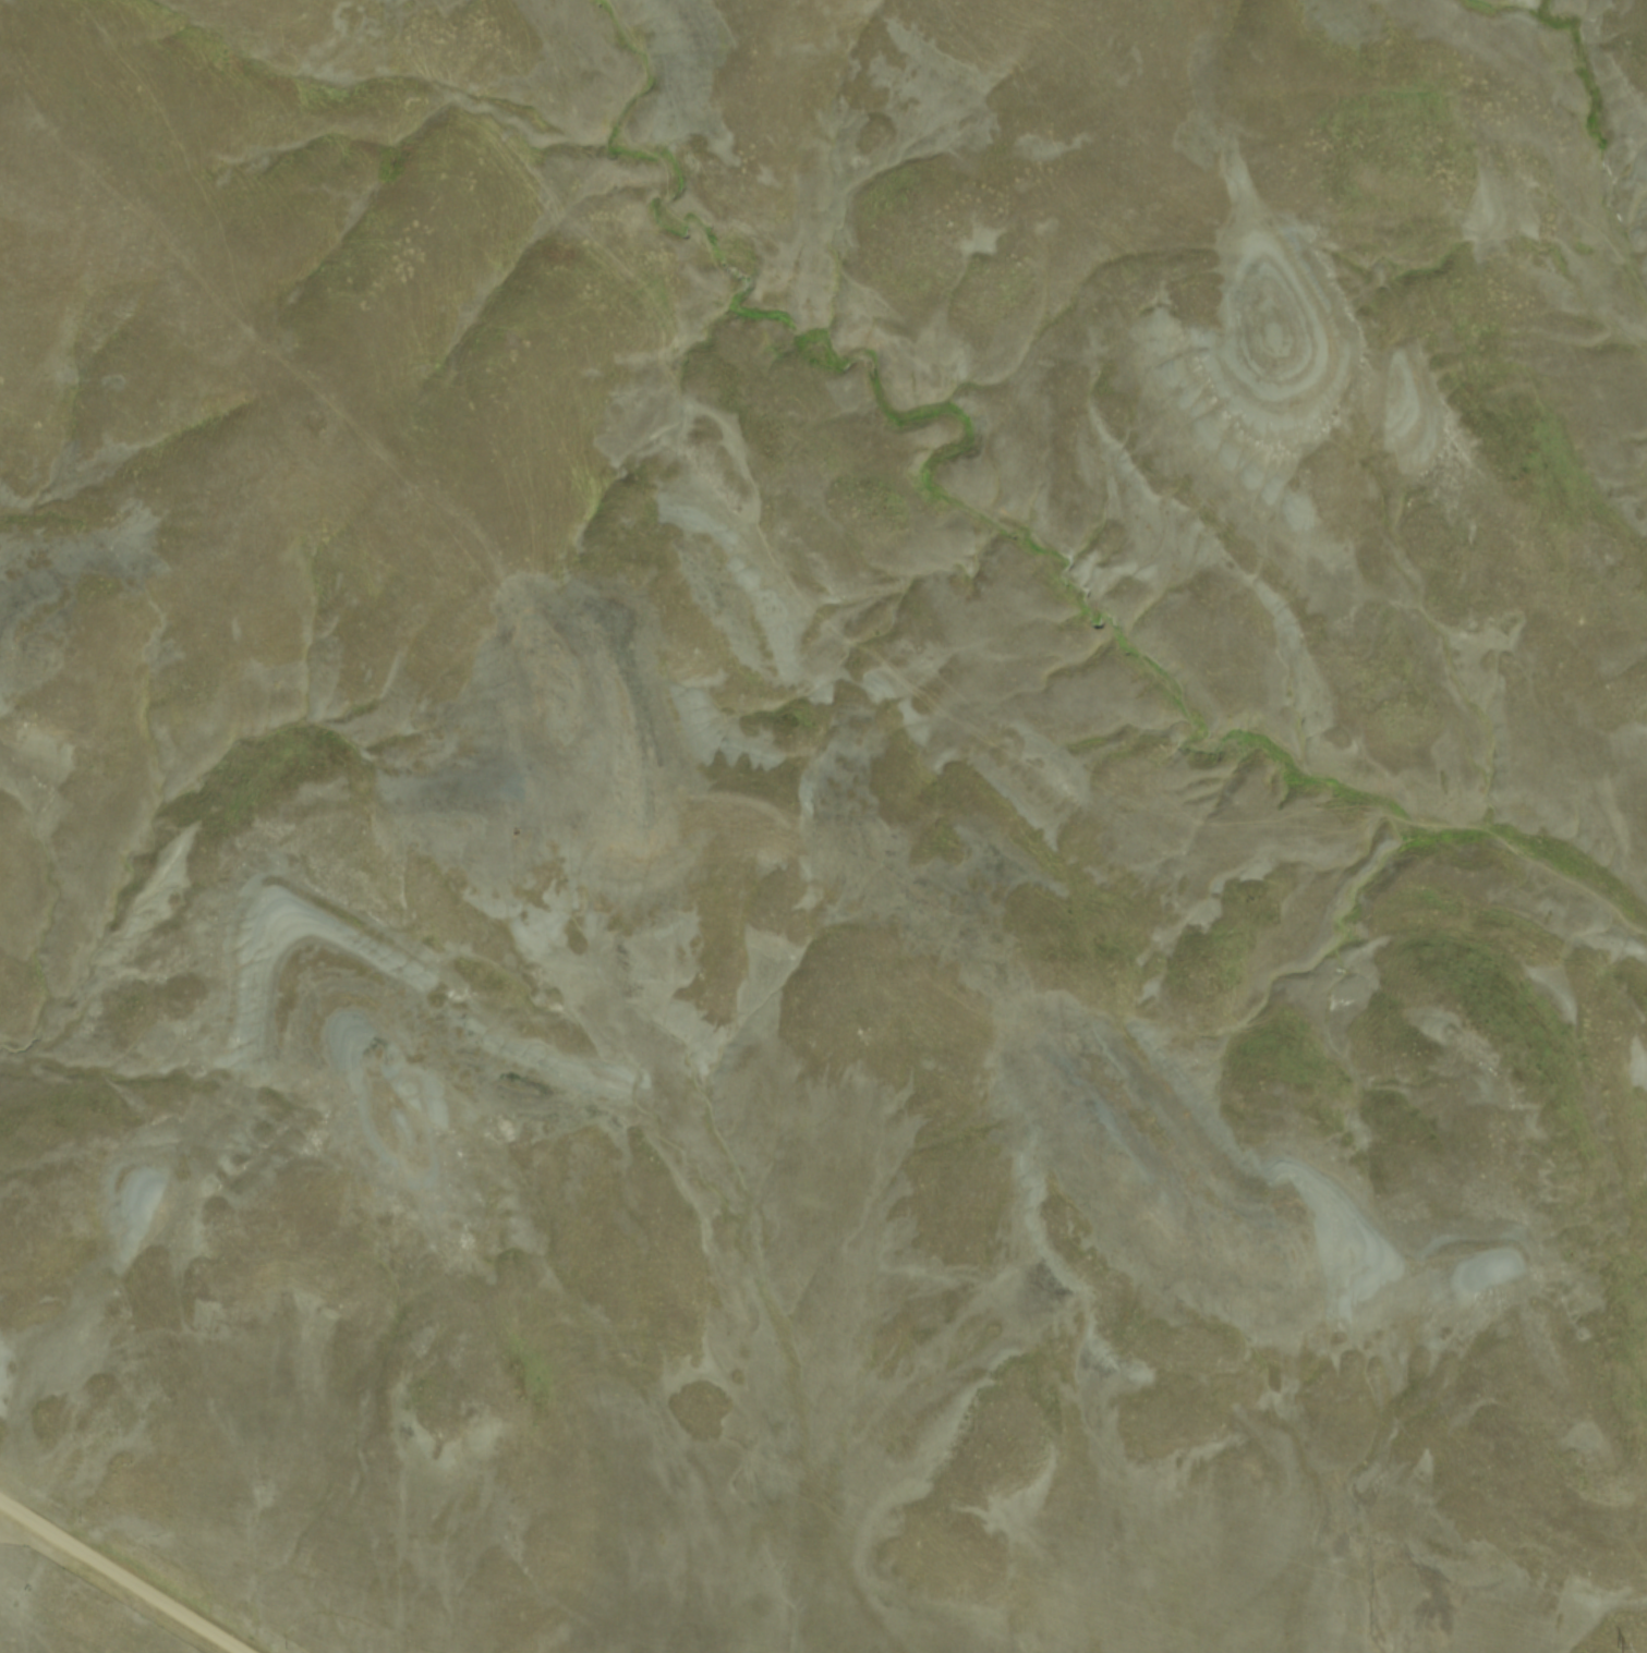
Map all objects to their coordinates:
road: (121, 1577)
power tower: (1615, 1651)

